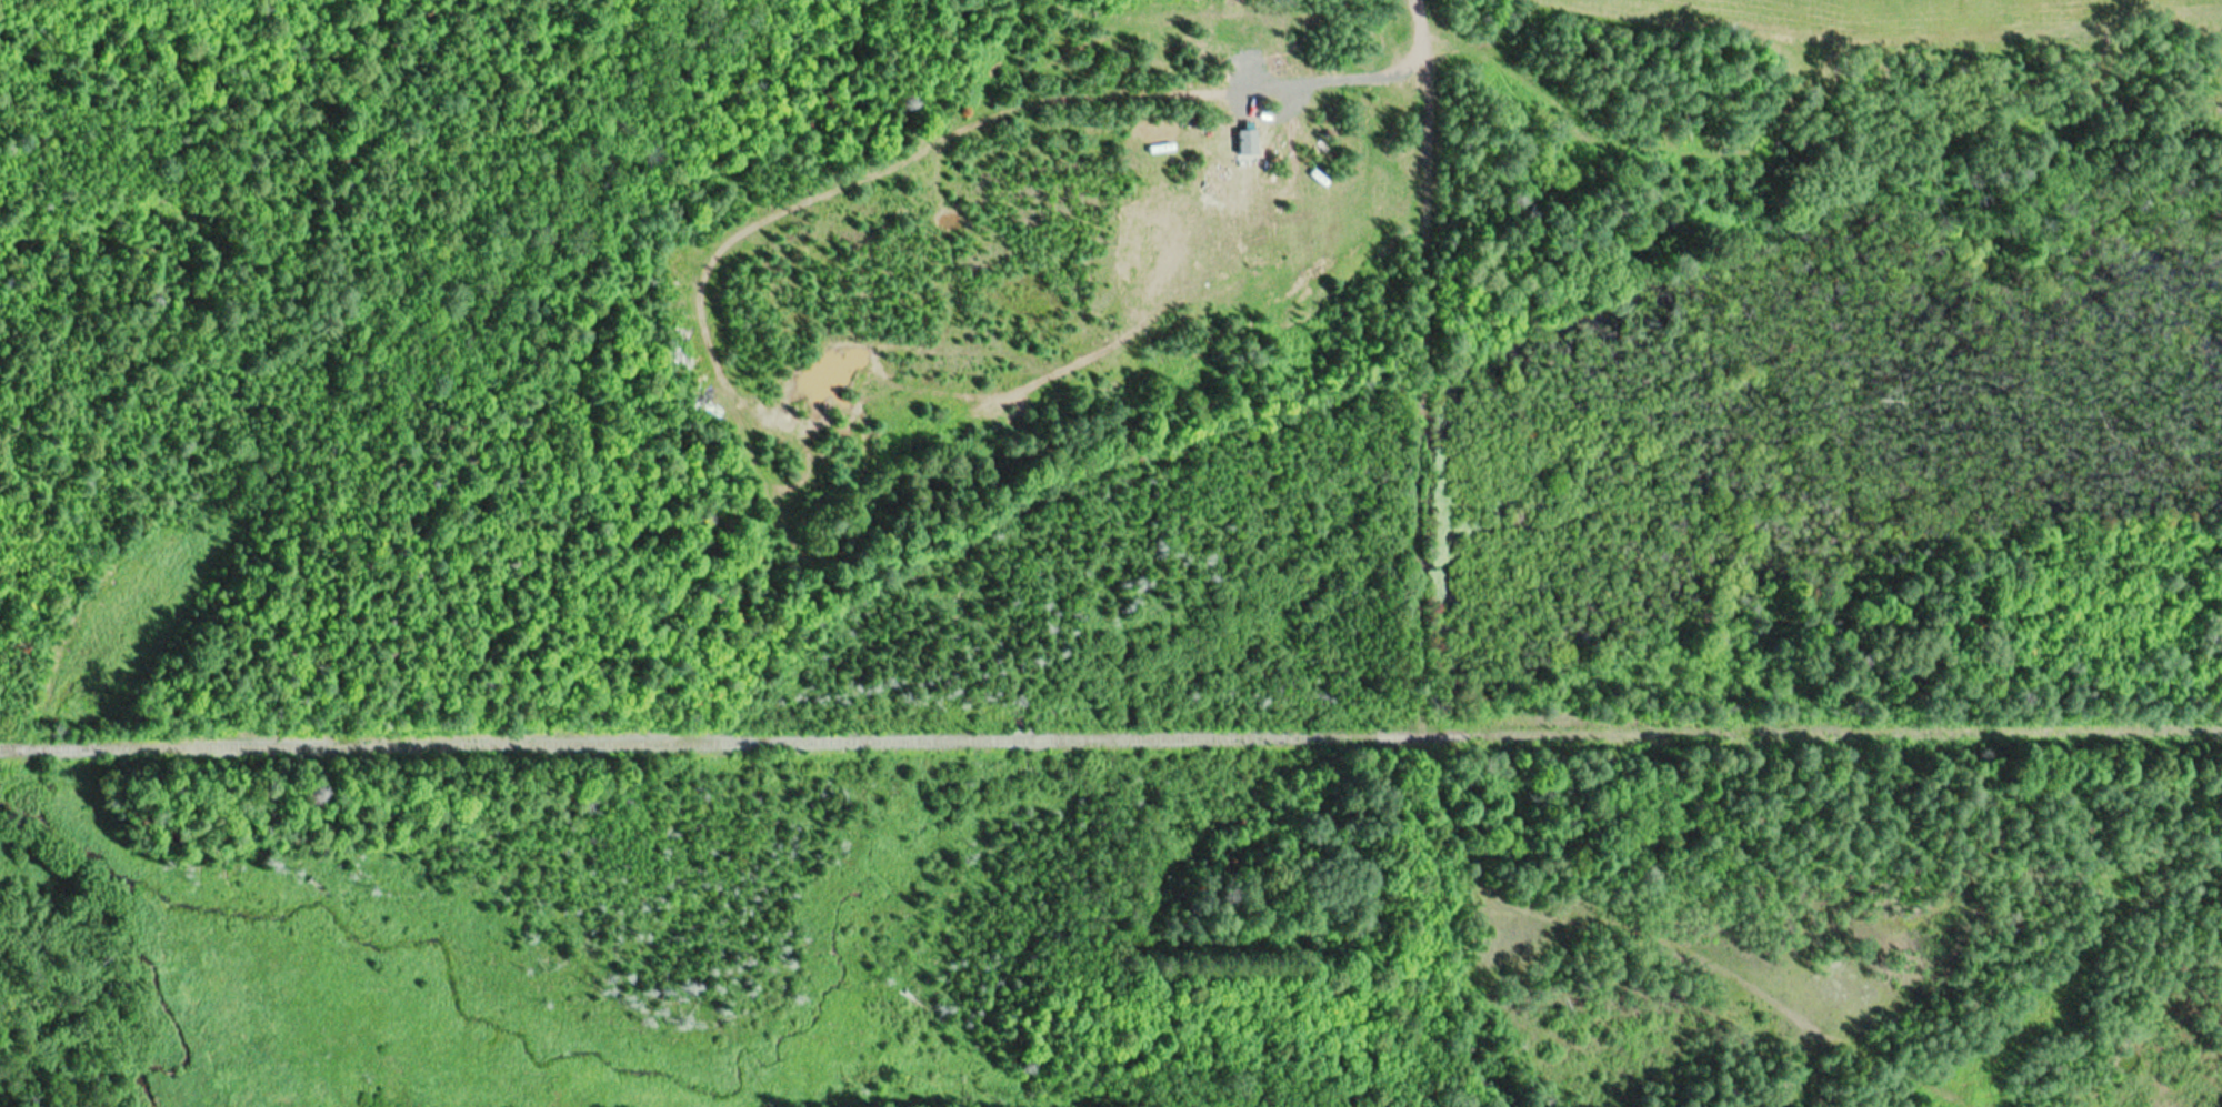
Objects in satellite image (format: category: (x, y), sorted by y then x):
road: (1440, 399)
railway: (1111, 768)
road: (1658, 997)

